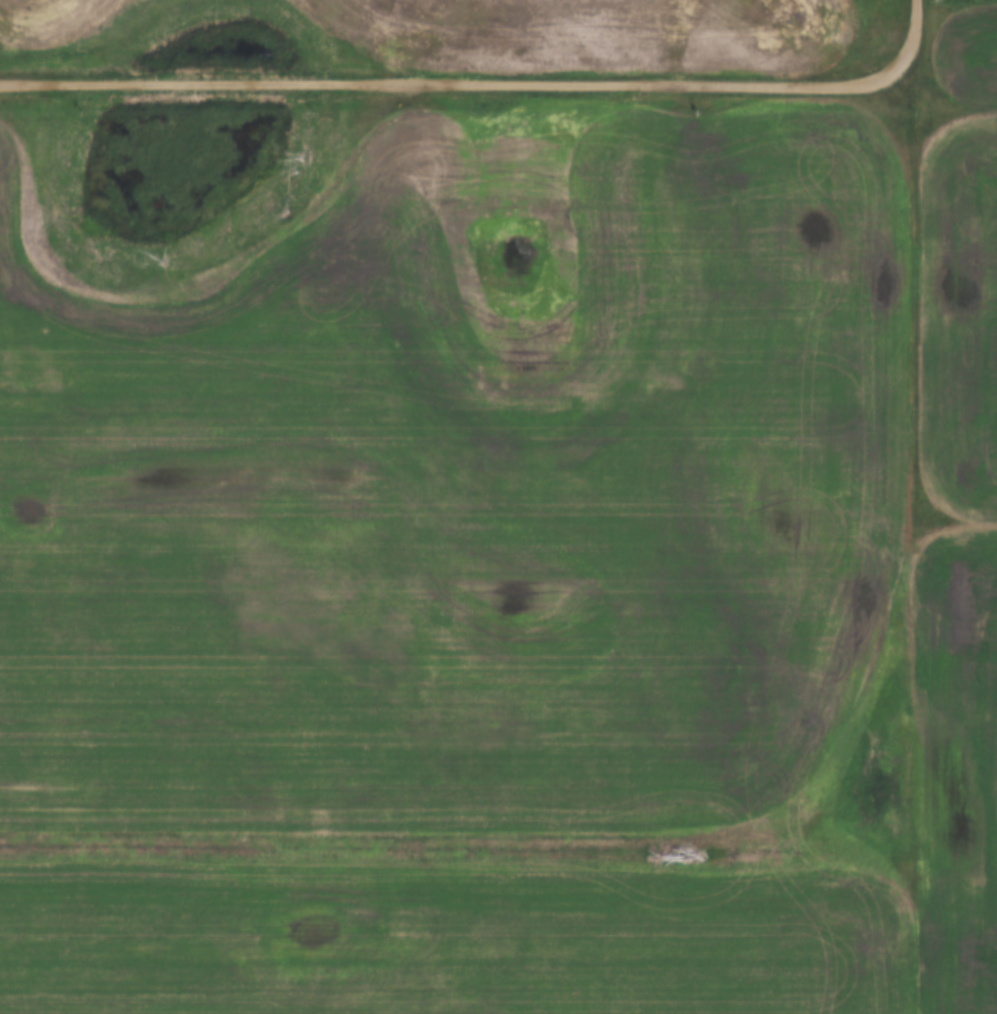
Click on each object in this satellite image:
road: (486, 82)

